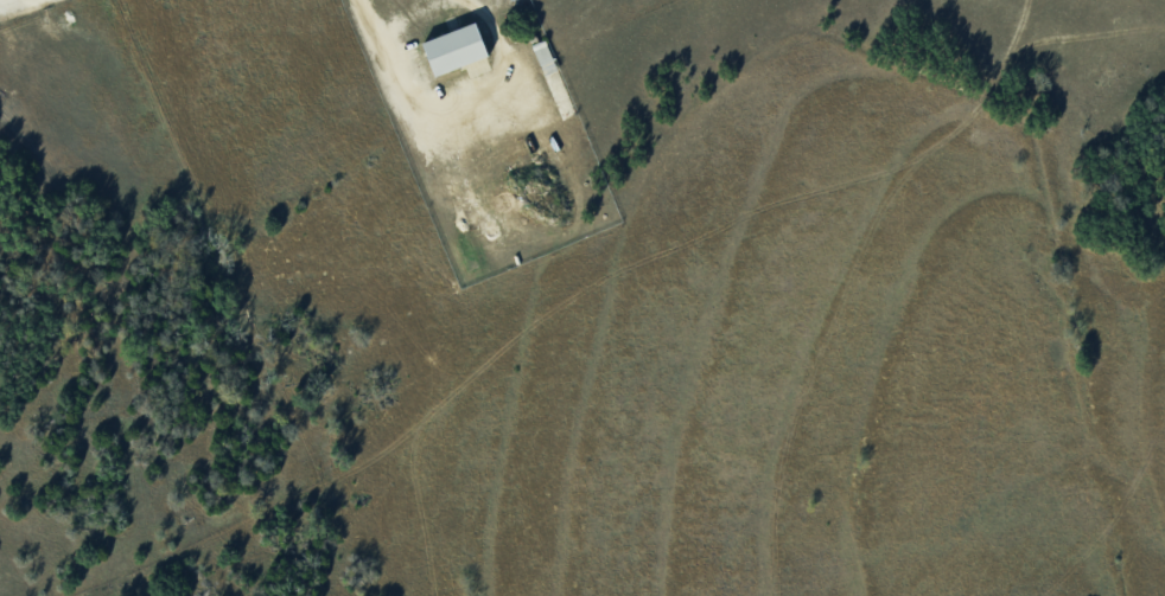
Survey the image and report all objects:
building: (459, 47)
road: (452, 98)

